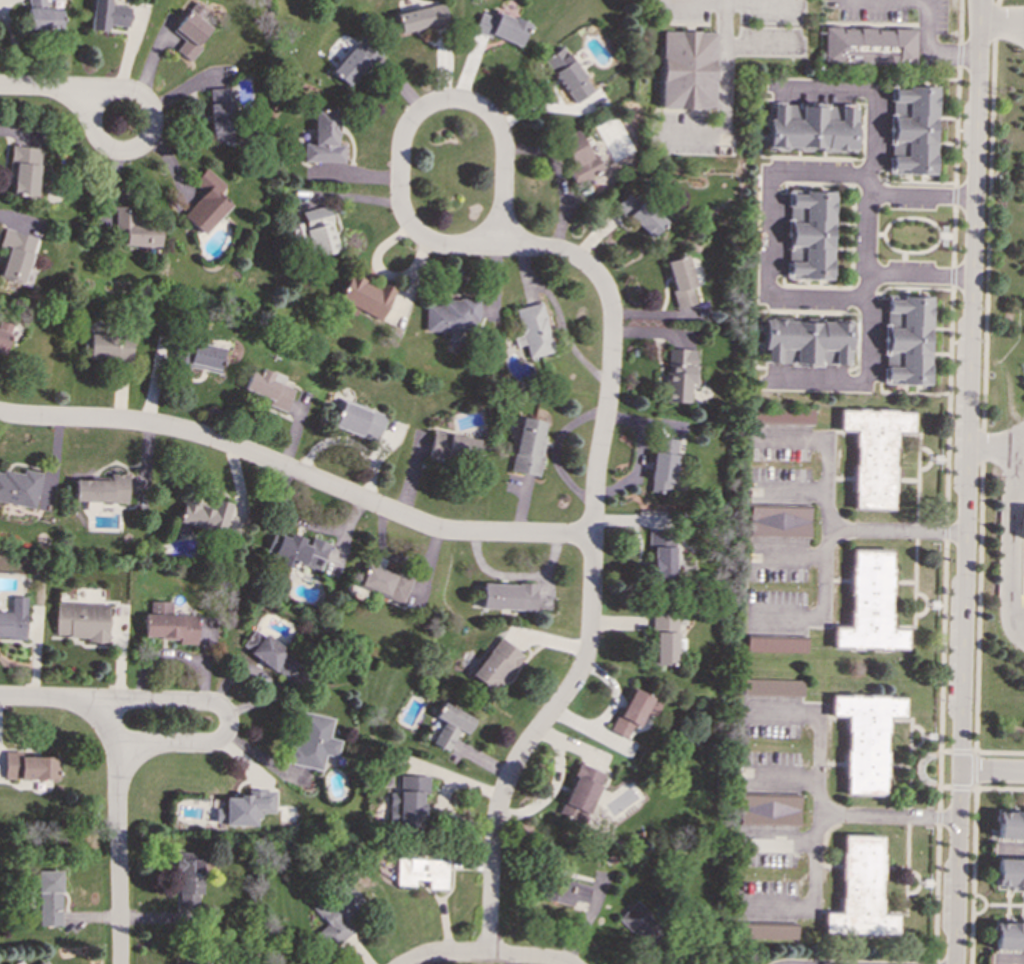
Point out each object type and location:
road: (1001, 13)
building: (108, 15)
building: (42, 16)
building: (422, 18)
road: (960, 21)
building: (501, 27)
building: (191, 30)
building: (869, 45)
road: (929, 45)
road: (958, 54)
road: (725, 61)
building: (353, 63)
building: (687, 69)
building: (567, 75)
road: (69, 92)
road: (871, 92)
road: (438, 103)
building: (221, 114)
building: (812, 127)
road: (956, 127)
building: (912, 129)
building: (324, 139)
building: (577, 157)
building: (21, 171)
road: (954, 196)
building: (205, 202)
building: (639, 214)
road: (767, 227)
building: (133, 228)
building: (319, 231)
building: (810, 234)
road: (953, 235)
road: (918, 273)
road: (952, 275)
road: (864, 279)
building: (680, 280)
building: (364, 297)
building: (451, 315)
building: (532, 330)
building: (2, 340)
building: (907, 340)
building: (806, 341)
building: (107, 347)
road: (612, 353)
building: (199, 356)
building: (679, 373)
building: (267, 389)
road: (983, 400)
road: (949, 405)
building: (780, 415)
building: (358, 421)
road: (995, 442)
building: (452, 447)
building: (527, 447)
building: (875, 453)
building: (661, 466)
road: (296, 474)
road: (824, 481)
road: (966, 481)
building: (18, 487)
building: (100, 491)
building: (203, 516)
building: (1023, 520)
building: (778, 522)
road: (849, 527)
road: (945, 532)
road: (1011, 536)
building: (298, 551)
building: (660, 555)
building: (383, 583)
building: (507, 596)
building: (870, 604)
building: (13, 619)
building: (81, 621)
building: (167, 623)
building: (662, 639)
building: (775, 645)
road: (942, 645)
building: (268, 653)
building: (495, 664)
building: (771, 686)
road: (565, 693)
road: (48, 699)
building: (632, 712)
road: (224, 716)
building: (449, 725)
road: (816, 729)
building: (866, 738)
building: (312, 742)
road: (962, 751)
road: (939, 762)
building: (28, 766)
road: (992, 768)
road: (973, 770)
road: (960, 787)
road: (998, 788)
road: (938, 793)
building: (579, 795)
building: (411, 801)
building: (244, 808)
building: (768, 810)
road: (843, 813)
road: (938, 817)
building: (1009, 824)
road: (117, 831)
road: (1009, 849)
building: (421, 872)
building: (1008, 874)
road: (972, 876)
building: (188, 879)
building: (860, 891)
building: (567, 893)
road: (936, 893)
road: (490, 896)
building: (48, 898)
building: (338, 909)
building: (639, 925)
building: (767, 931)
building: (1007, 934)
road: (446, 955)
road: (524, 958)
road: (1008, 959)
building: (42, 962)
building: (189, 963)
road: (934, 963)

